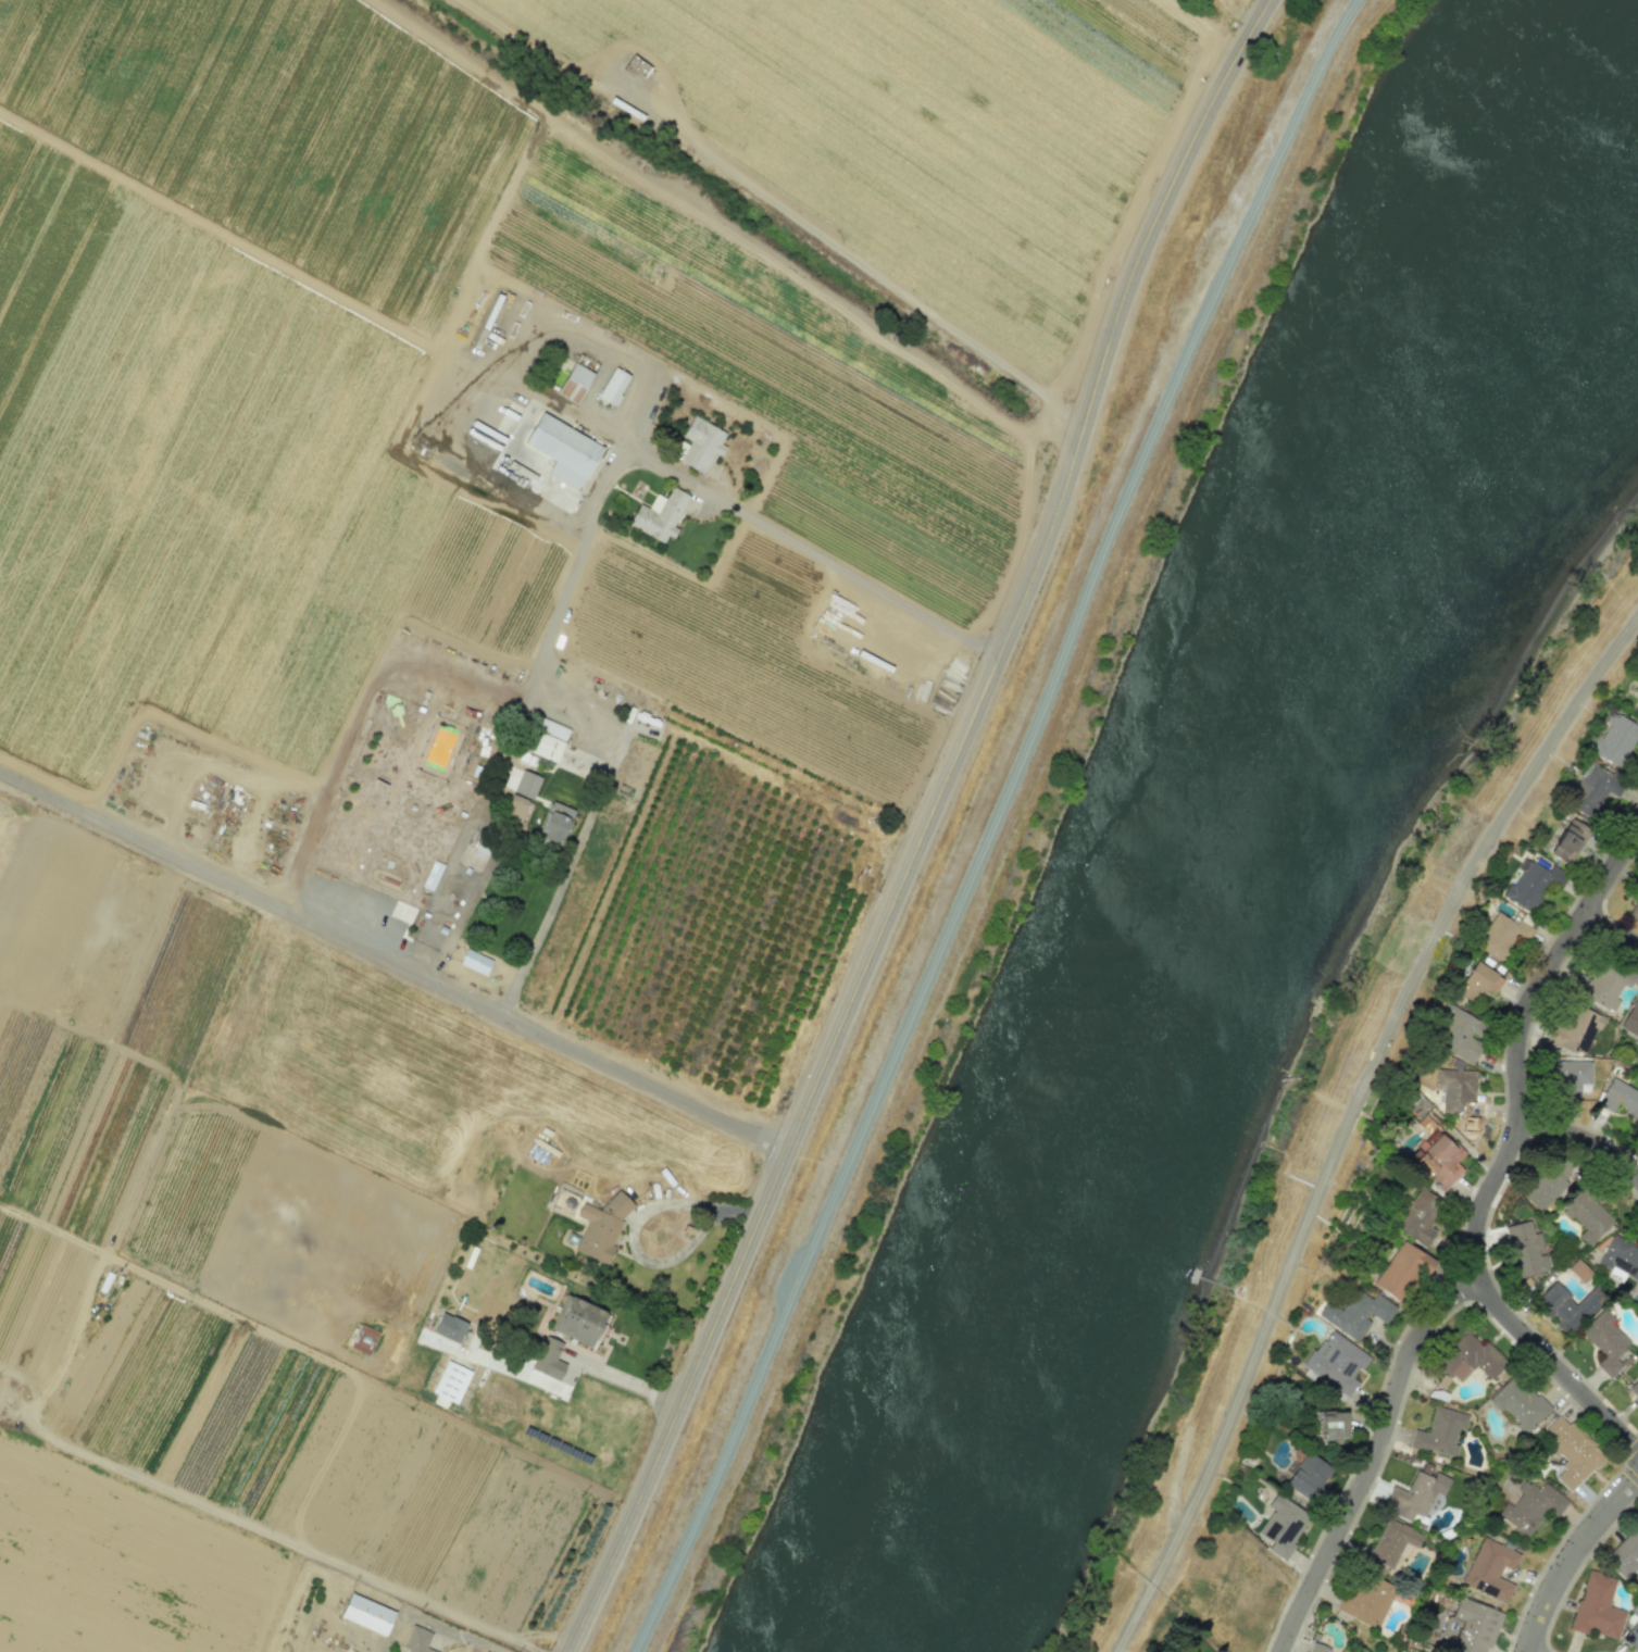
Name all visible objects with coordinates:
road: (1341, 30)
road: (868, 274)
road: (597, 348)
building: (577, 377)
building: (613, 385)
building: (701, 443)
road: (441, 447)
building: (563, 449)
road: (605, 488)
building: (661, 515)
building: (441, 681)
building: (1635, 708)
building: (1616, 739)
building: (542, 741)
road: (340, 763)
building: (526, 784)
building: (1595, 789)
building: (515, 806)
building: (555, 822)
road: (923, 827)
road: (990, 827)
road: (251, 836)
building: (1568, 841)
road: (300, 856)
building: (1530, 885)
river: (1223, 890)
building: (1635, 914)
road: (1612, 931)
building: (1504, 936)
building: (475, 962)
road: (391, 964)
building: (1478, 983)
building: (1601, 986)
building: (1631, 1022)
building: (1574, 1029)
building: (1460, 1035)
building: (1571, 1076)
building: (1461, 1097)
building: (1620, 1098)
road: (1347, 1121)
road: (1583, 1139)
road: (1509, 1154)
building: (1439, 1162)
building: (1549, 1182)
building: (1418, 1216)
building: (1588, 1216)
building: (602, 1224)
road: (632, 1228)
building: (1525, 1250)
building: (1578, 1271)
building: (1401, 1272)
building: (1568, 1305)
building: (1356, 1313)
building: (577, 1316)
building: (450, 1325)
building: (363, 1339)
building: (1605, 1341)
building: (549, 1356)
building: (1470, 1359)
building: (1336, 1363)
road: (622, 1376)
road: (534, 1378)
building: (451, 1381)
building: (1438, 1392)
building: (1517, 1404)
building: (1330, 1426)
building: (1440, 1431)
building: (1571, 1451)
road: (1377, 1456)
building: (1308, 1476)
building: (1416, 1493)
building: (1530, 1506)
building: (1281, 1526)
building: (1392, 1541)
building: (1625, 1553)
road: (1573, 1560)
crop: (120, 1565)
building: (1490, 1568)
building: (1366, 1601)
building: (1596, 1606)
building: (366, 1613)
road: (436, 1622)
building: (1466, 1627)
building: (1631, 1637)
building: (416, 1639)
building: (1316, 1648)

